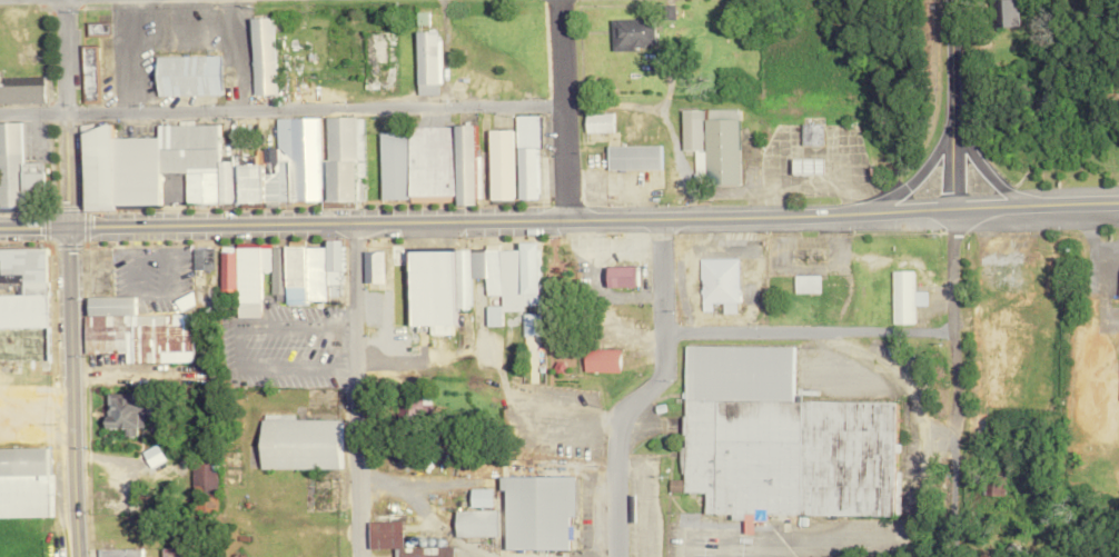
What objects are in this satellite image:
building: (1006, 12)
building: (419, 18)
building: (95, 28)
building: (630, 33)
building: (258, 54)
road: (127, 56)
building: (373, 60)
building: (424, 61)
building: (88, 73)
building: (182, 76)
building: (21, 89)
road: (277, 109)
road: (555, 110)
road: (59, 112)
building: (595, 122)
building: (809, 133)
building: (710, 140)
building: (523, 157)
building: (630, 157)
building: (424, 162)
building: (496, 163)
building: (218, 165)
building: (802, 165)
building: (13, 169)
road: (981, 173)
road: (911, 176)
road: (559, 220)
road: (1089, 239)
building: (198, 258)
road: (948, 259)
building: (368, 267)
building: (301, 271)
building: (239, 276)
building: (616, 276)
building: (463, 281)
building: (715, 284)
building: (802, 284)
building: (22, 287)
building: (1118, 291)
road: (553, 292)
building: (901, 297)
park: (556, 309)
building: (489, 316)
building: (527, 325)
road: (802, 327)
building: (132, 331)
building: (22, 344)
road: (232, 345)
road: (545, 356)
building: (597, 360)
road: (355, 390)
road: (641, 390)
road: (69, 391)
building: (123, 412)
building: (776, 441)
building: (295, 442)
building: (24, 483)
building: (476, 498)
building: (533, 511)
building: (471, 524)
road: (717, 551)
building: (118, 553)
building: (166, 553)

